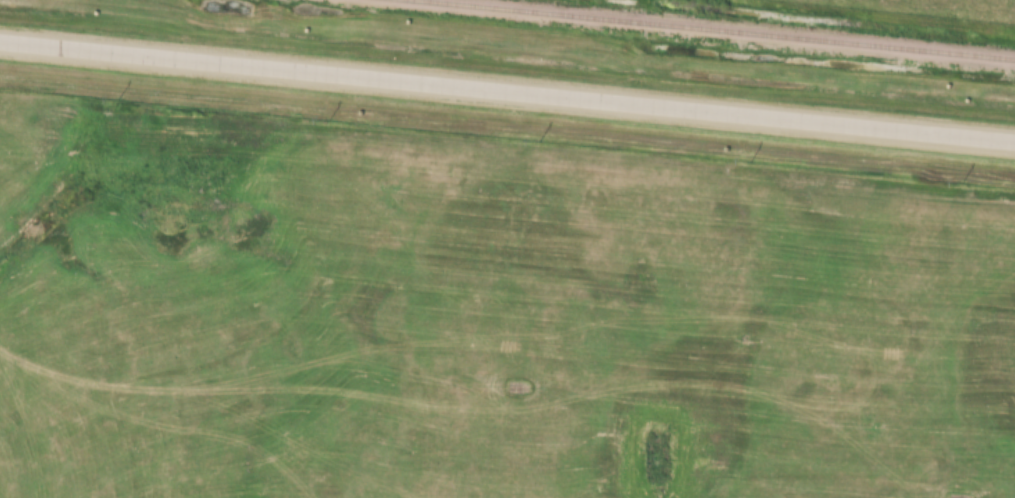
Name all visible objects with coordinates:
railway: (707, 30)
road: (507, 88)

